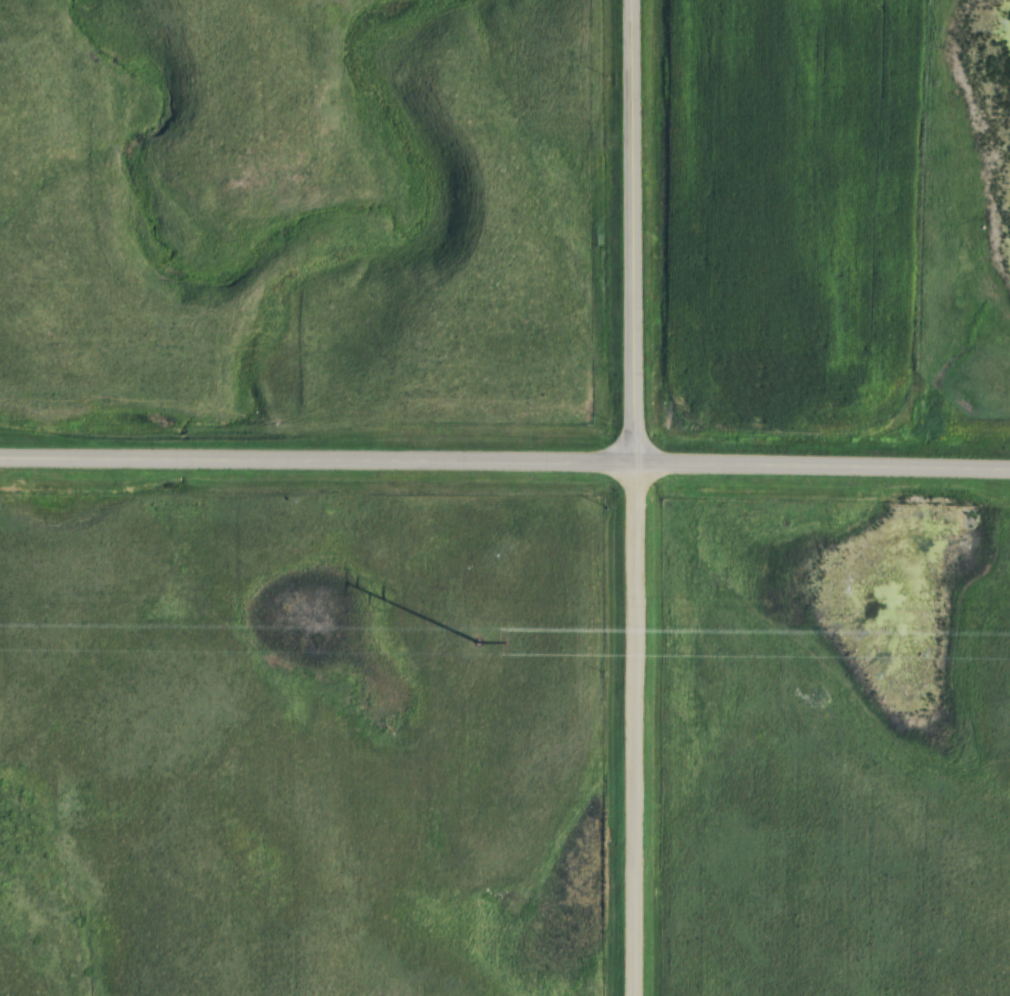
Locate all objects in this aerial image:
road: (505, 461)
road: (634, 497)
power tower: (478, 641)

